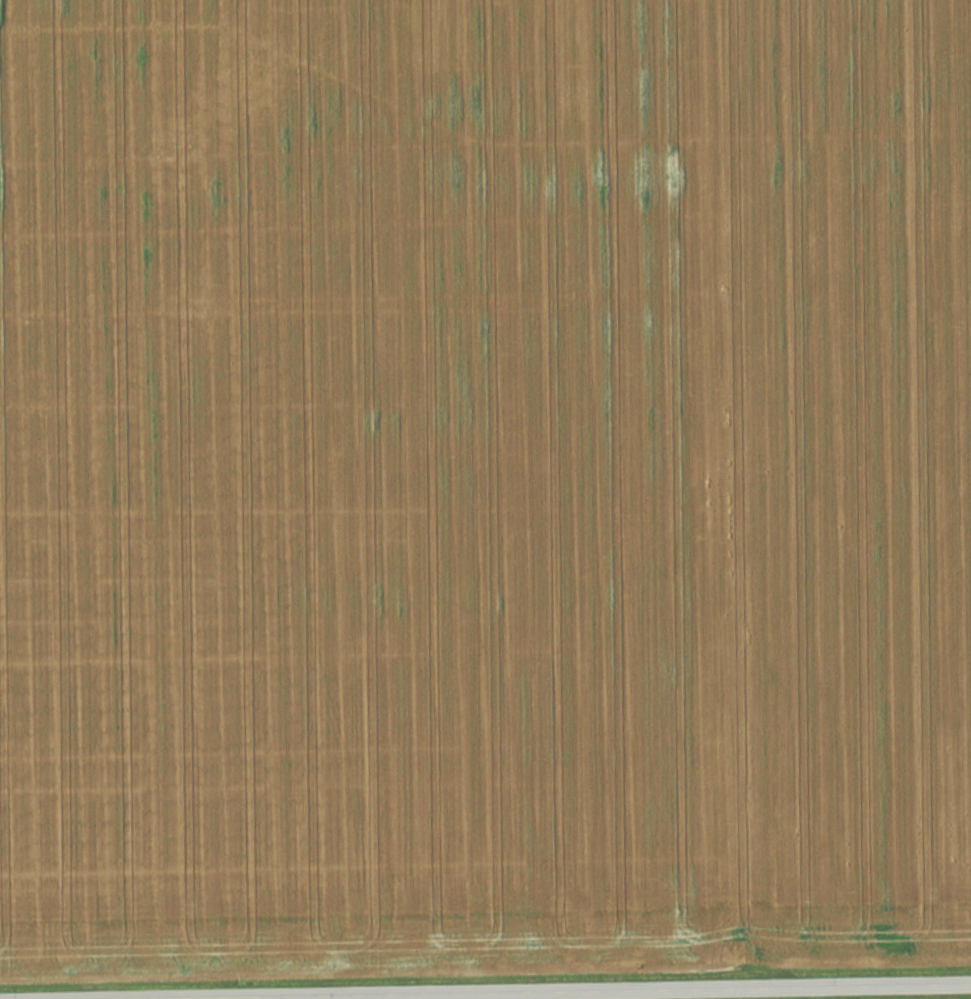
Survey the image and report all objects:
crop: (484, 487)
road: (642, 993)

